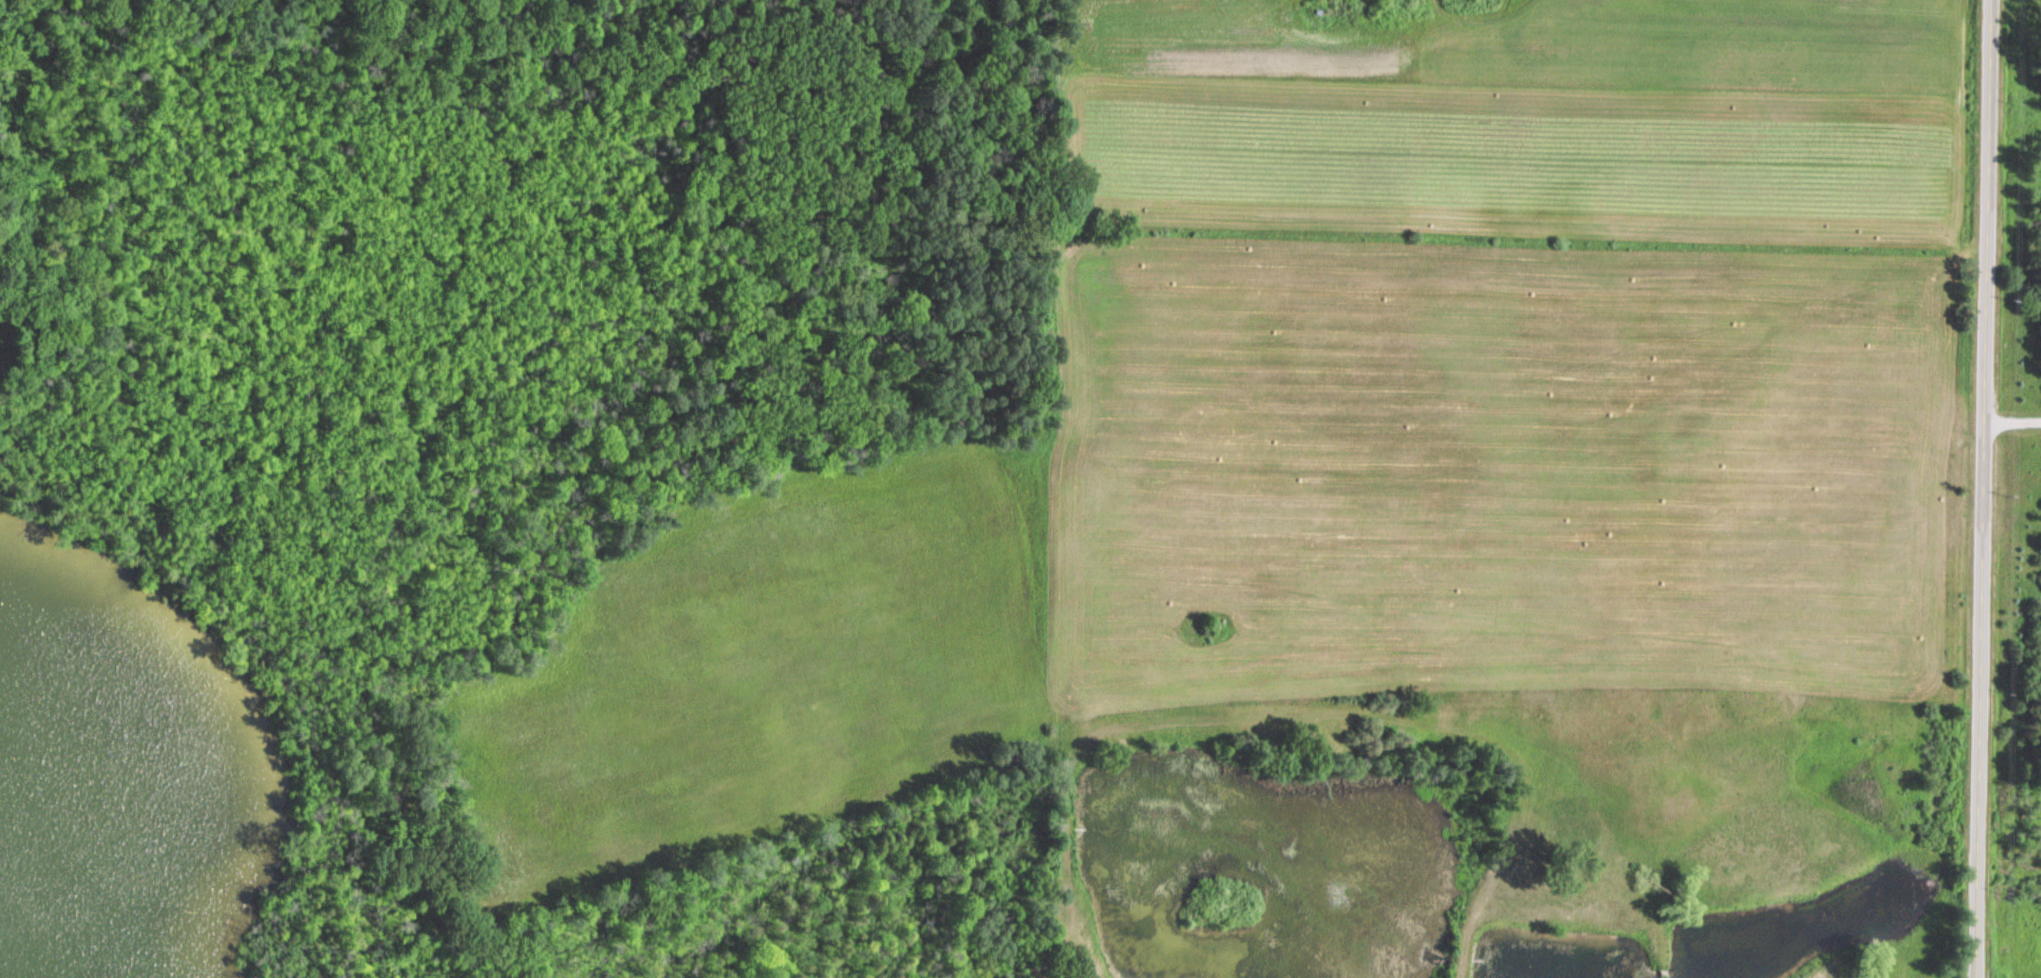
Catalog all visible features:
road: (157, 240)
road: (1982, 489)

